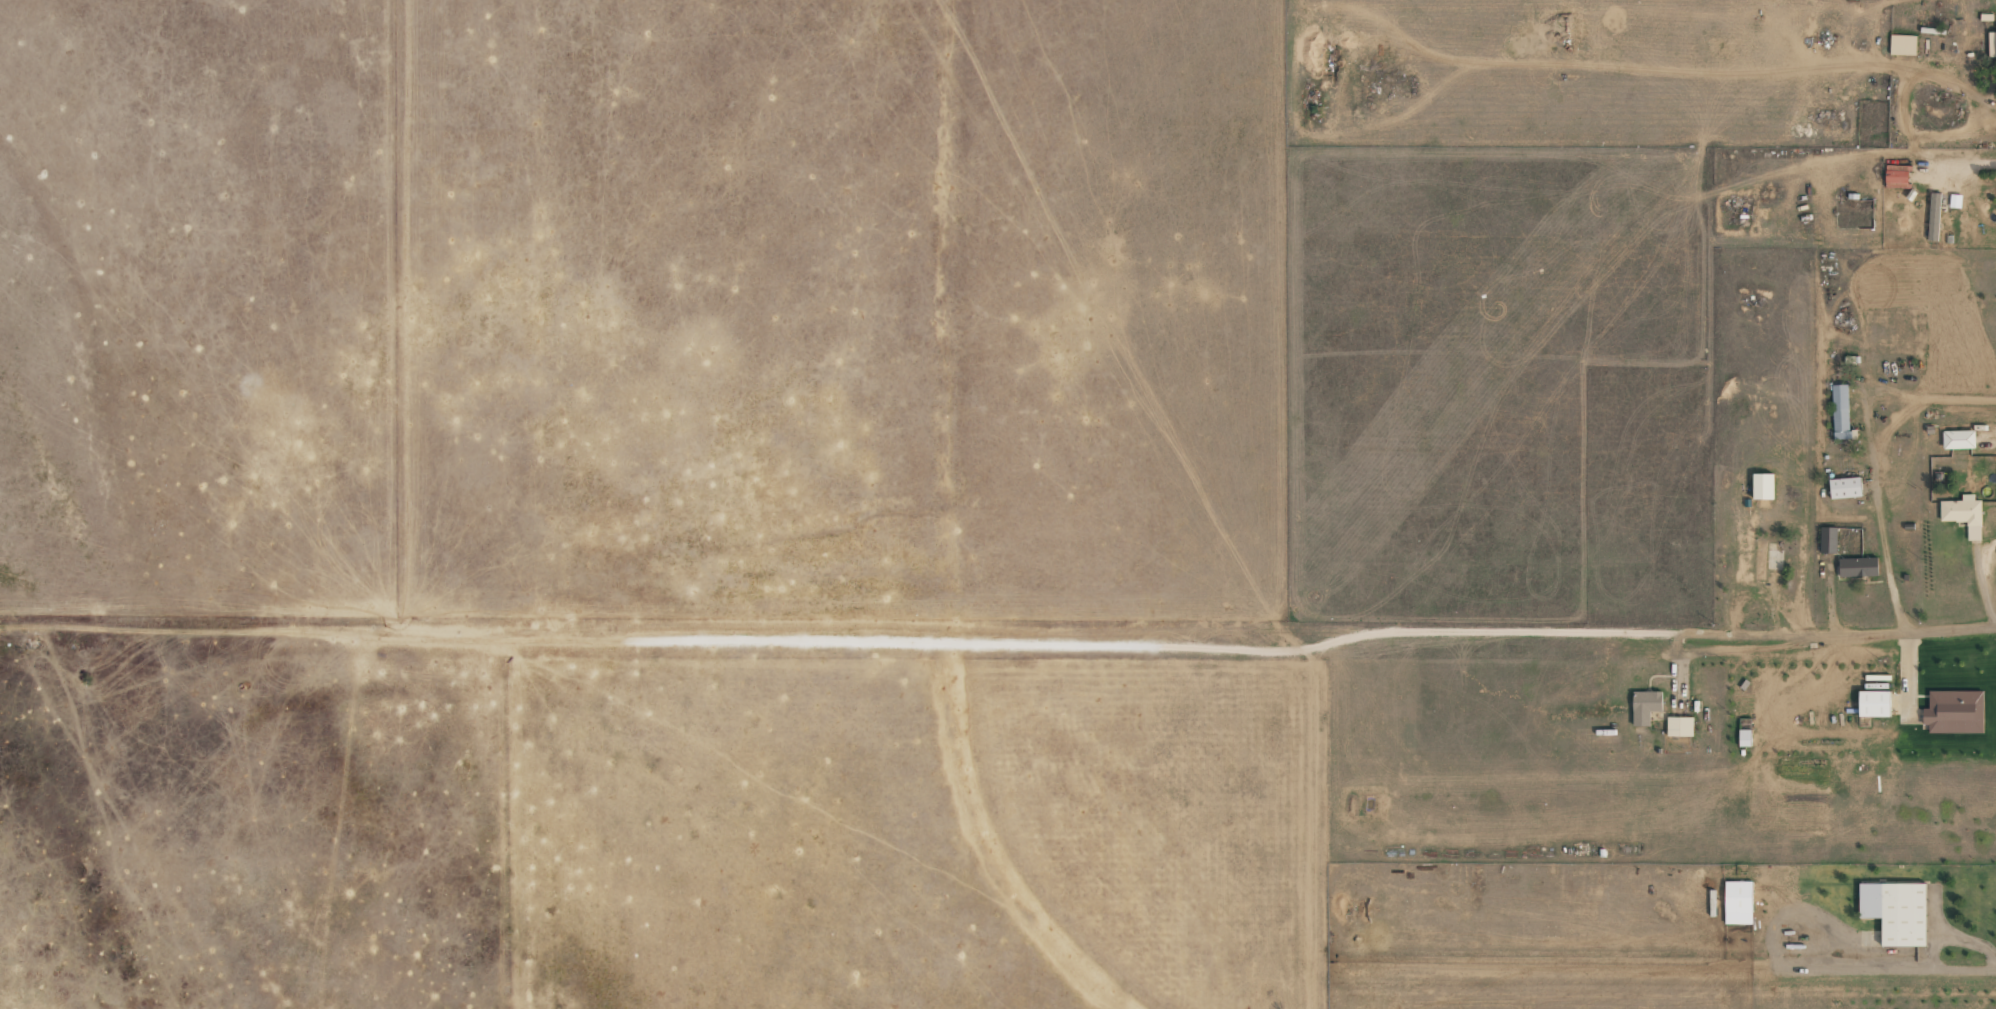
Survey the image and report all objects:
building: (1903, 44)
building: (1992, 44)
building: (1897, 176)
building: (1934, 216)
building: (1841, 413)
building: (1959, 439)
building: (1763, 486)
building: (1845, 487)
road: (998, 507)
building: (1964, 515)
building: (1828, 540)
building: (1761, 560)
building: (1858, 566)
road: (998, 669)
building: (1875, 703)
building: (1646, 706)
building: (1955, 712)
building: (1680, 726)
building: (1745, 737)
building: (1739, 902)
building: (1896, 911)

